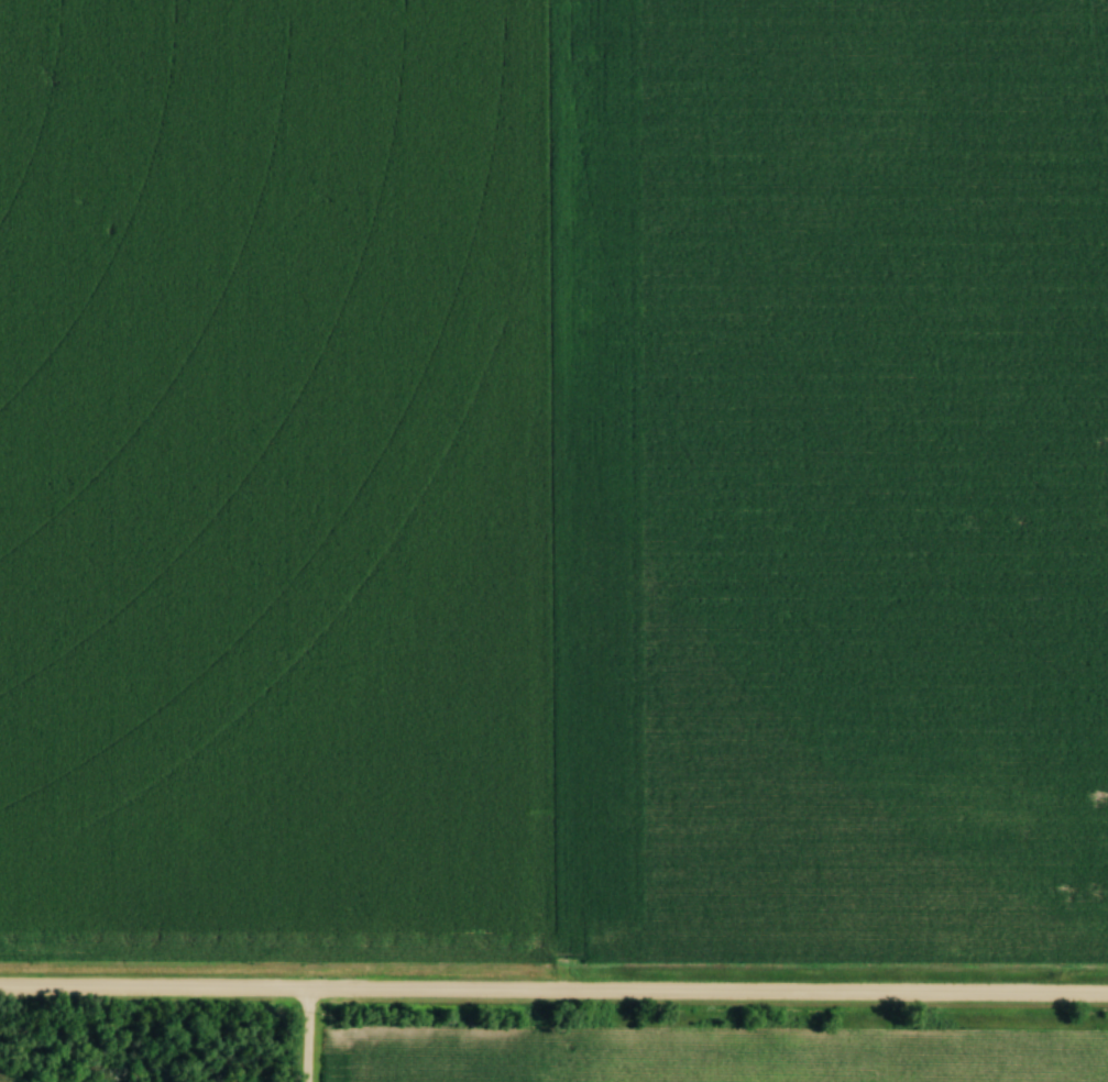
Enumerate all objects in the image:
crop: (262, 478)
road: (553, 993)
road: (303, 1036)

